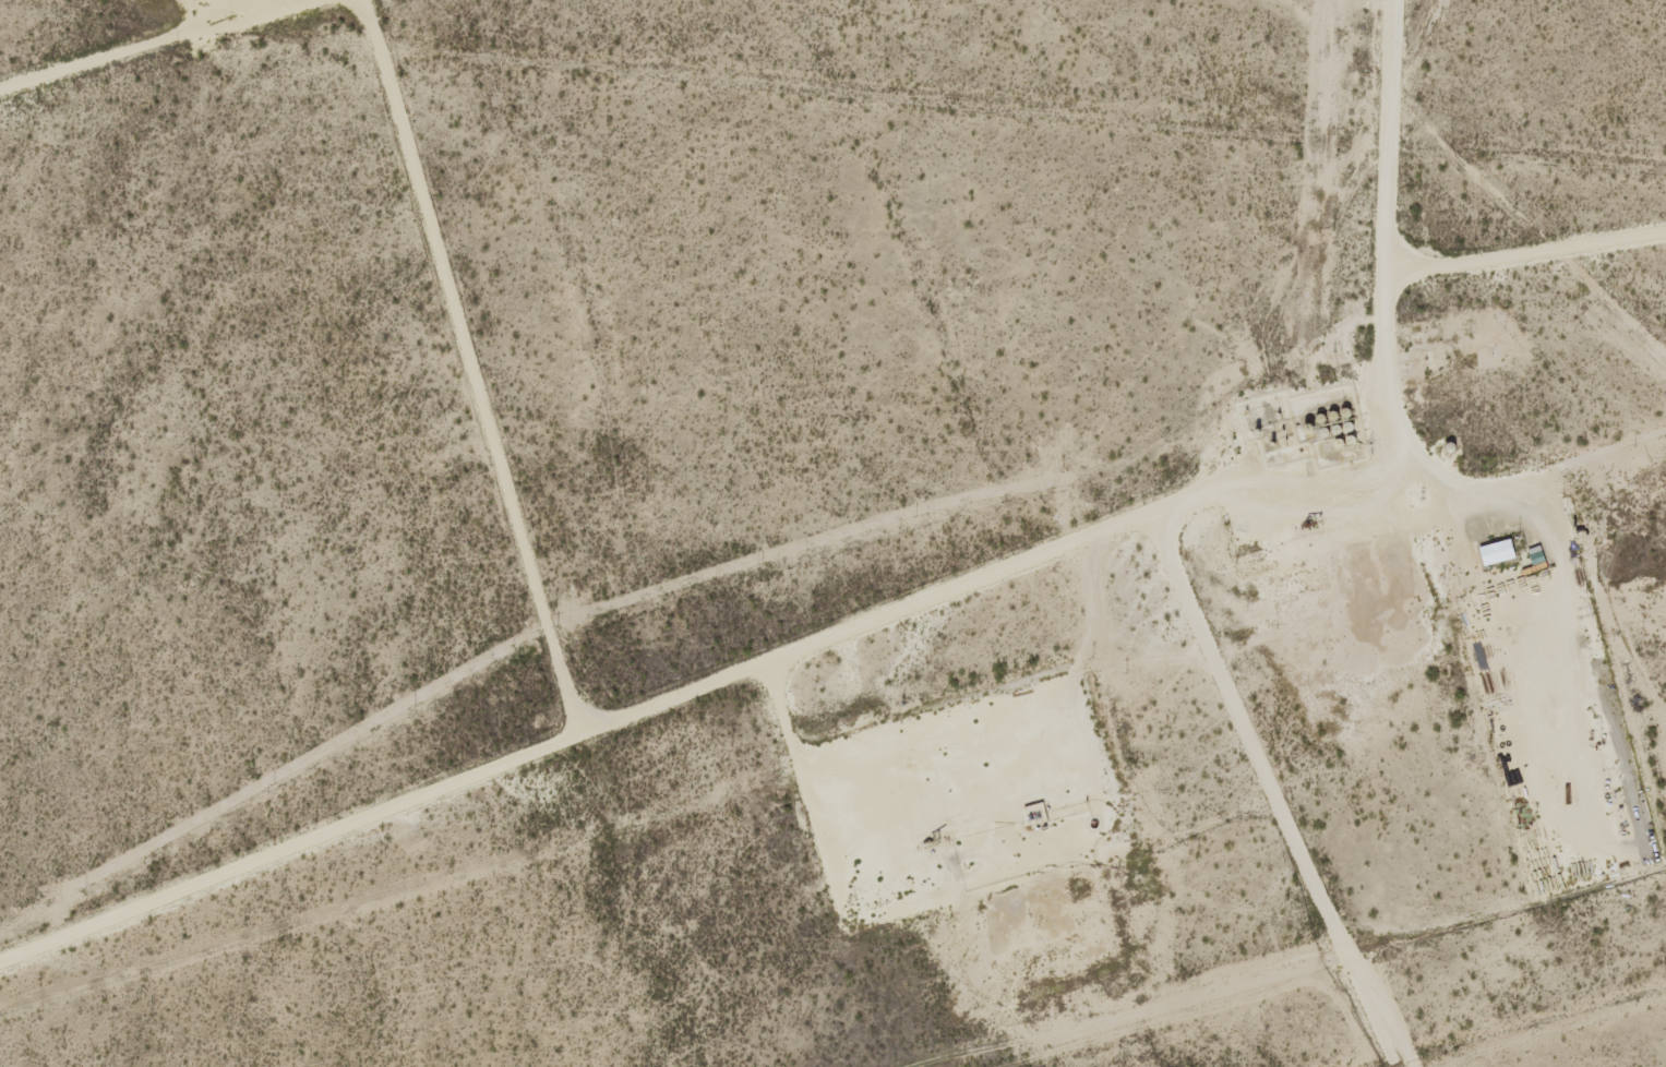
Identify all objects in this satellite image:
road: (133, 44)
road: (1211, 501)
petroleum well: (1306, 524)
building: (1499, 552)
road: (555, 652)
petroleum well: (924, 837)
road: (289, 842)

